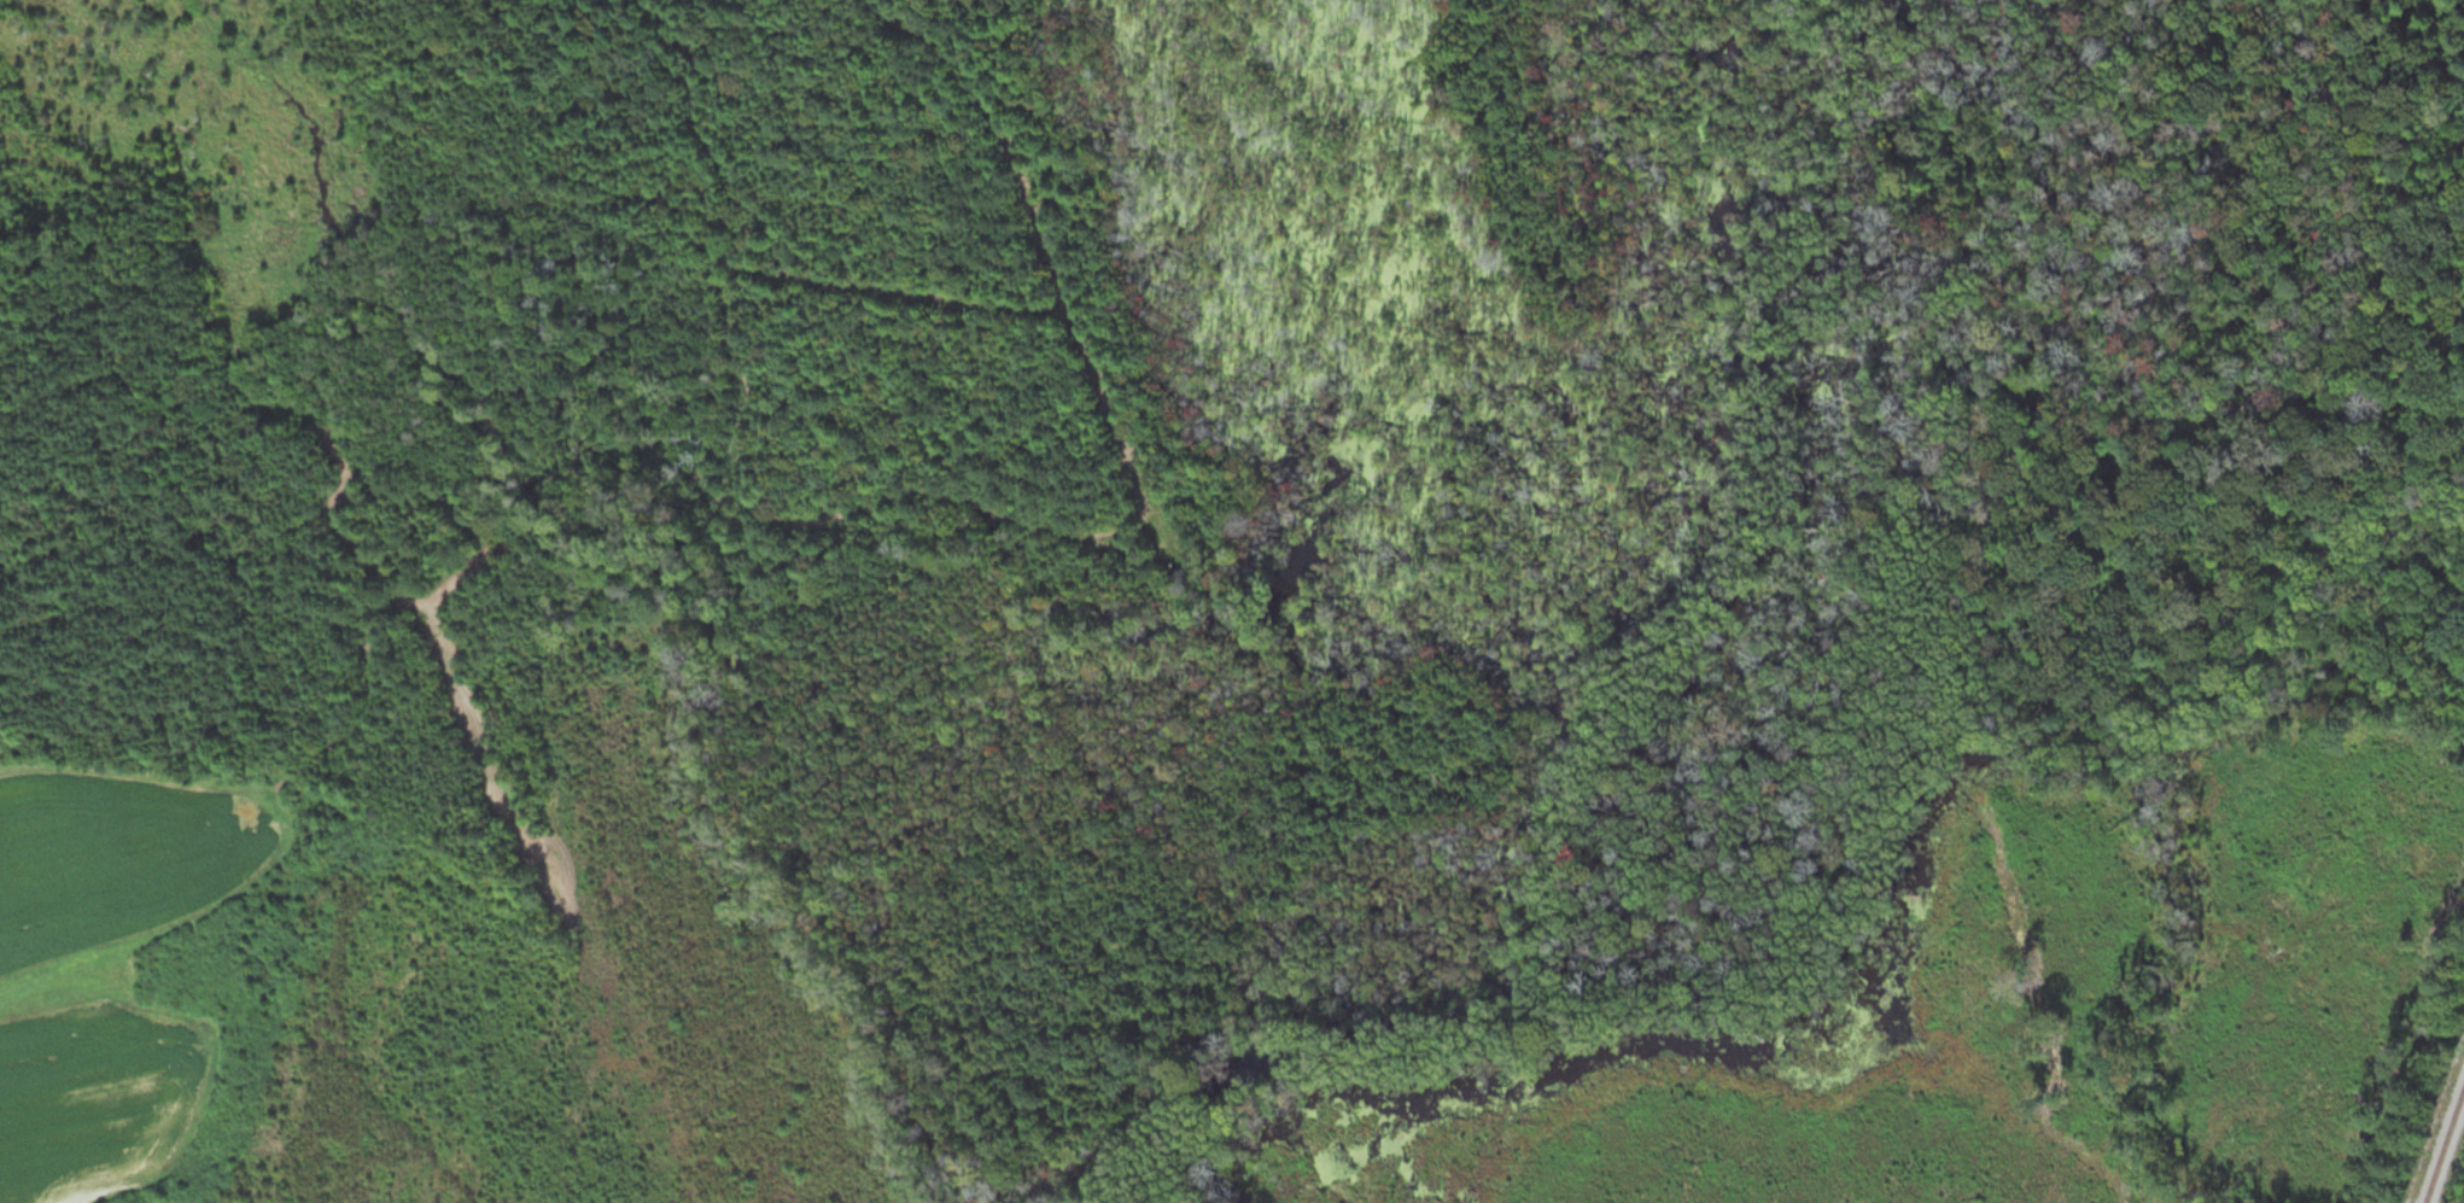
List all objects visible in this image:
railway: (2445, 1147)

